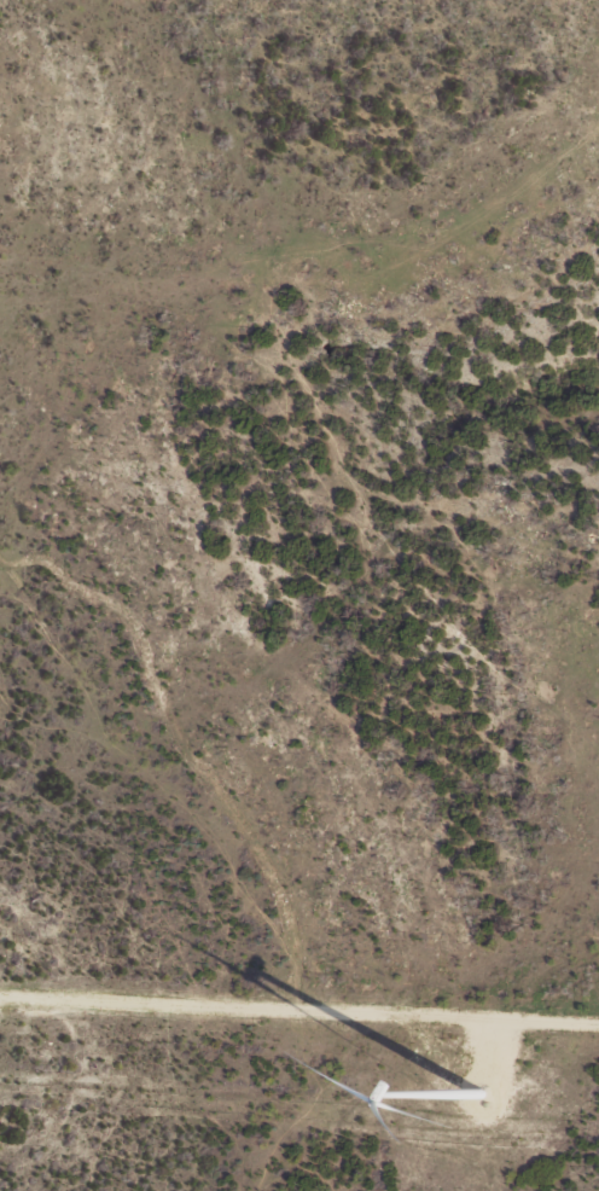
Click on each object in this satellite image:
wind turbine: (493, 1108)

